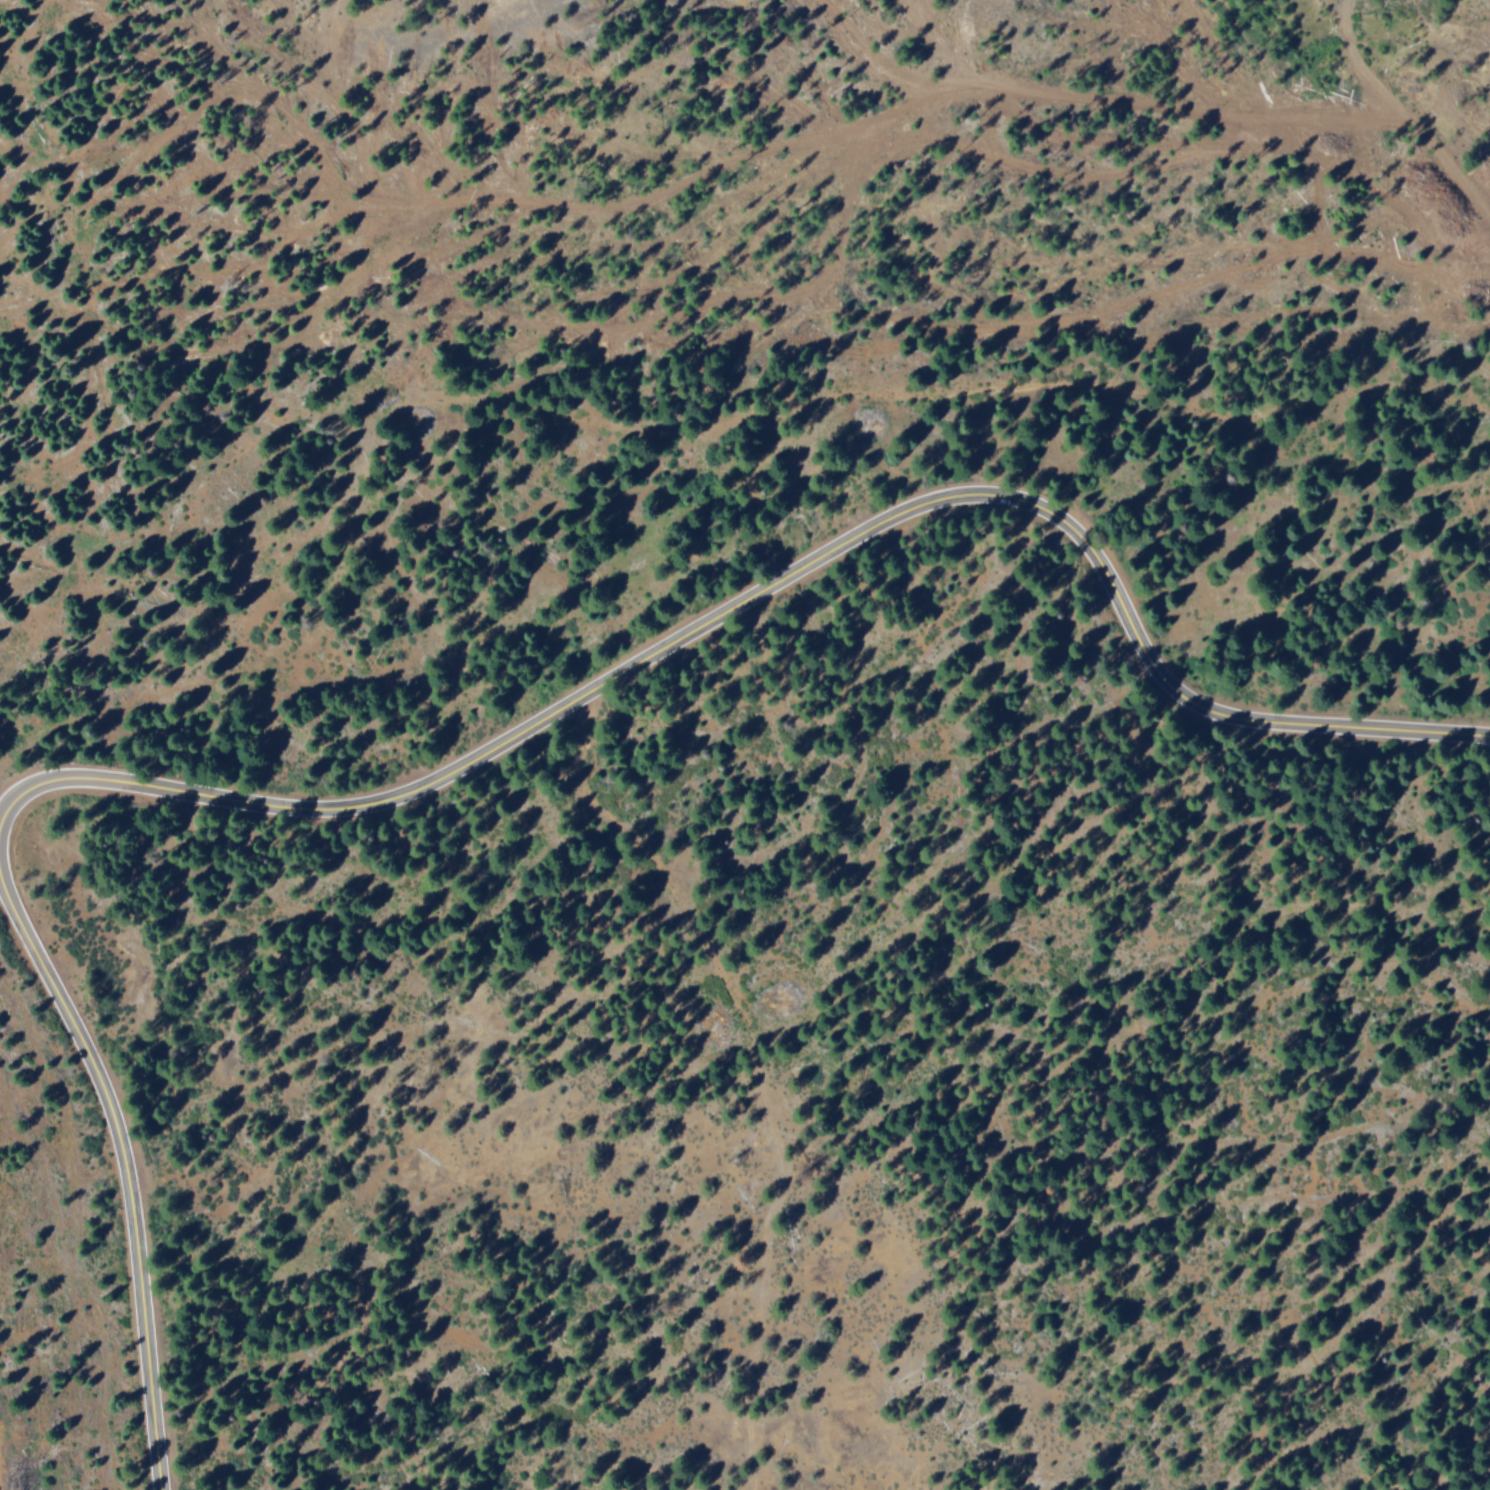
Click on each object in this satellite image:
road: (770, 584)
road: (126, 1166)

